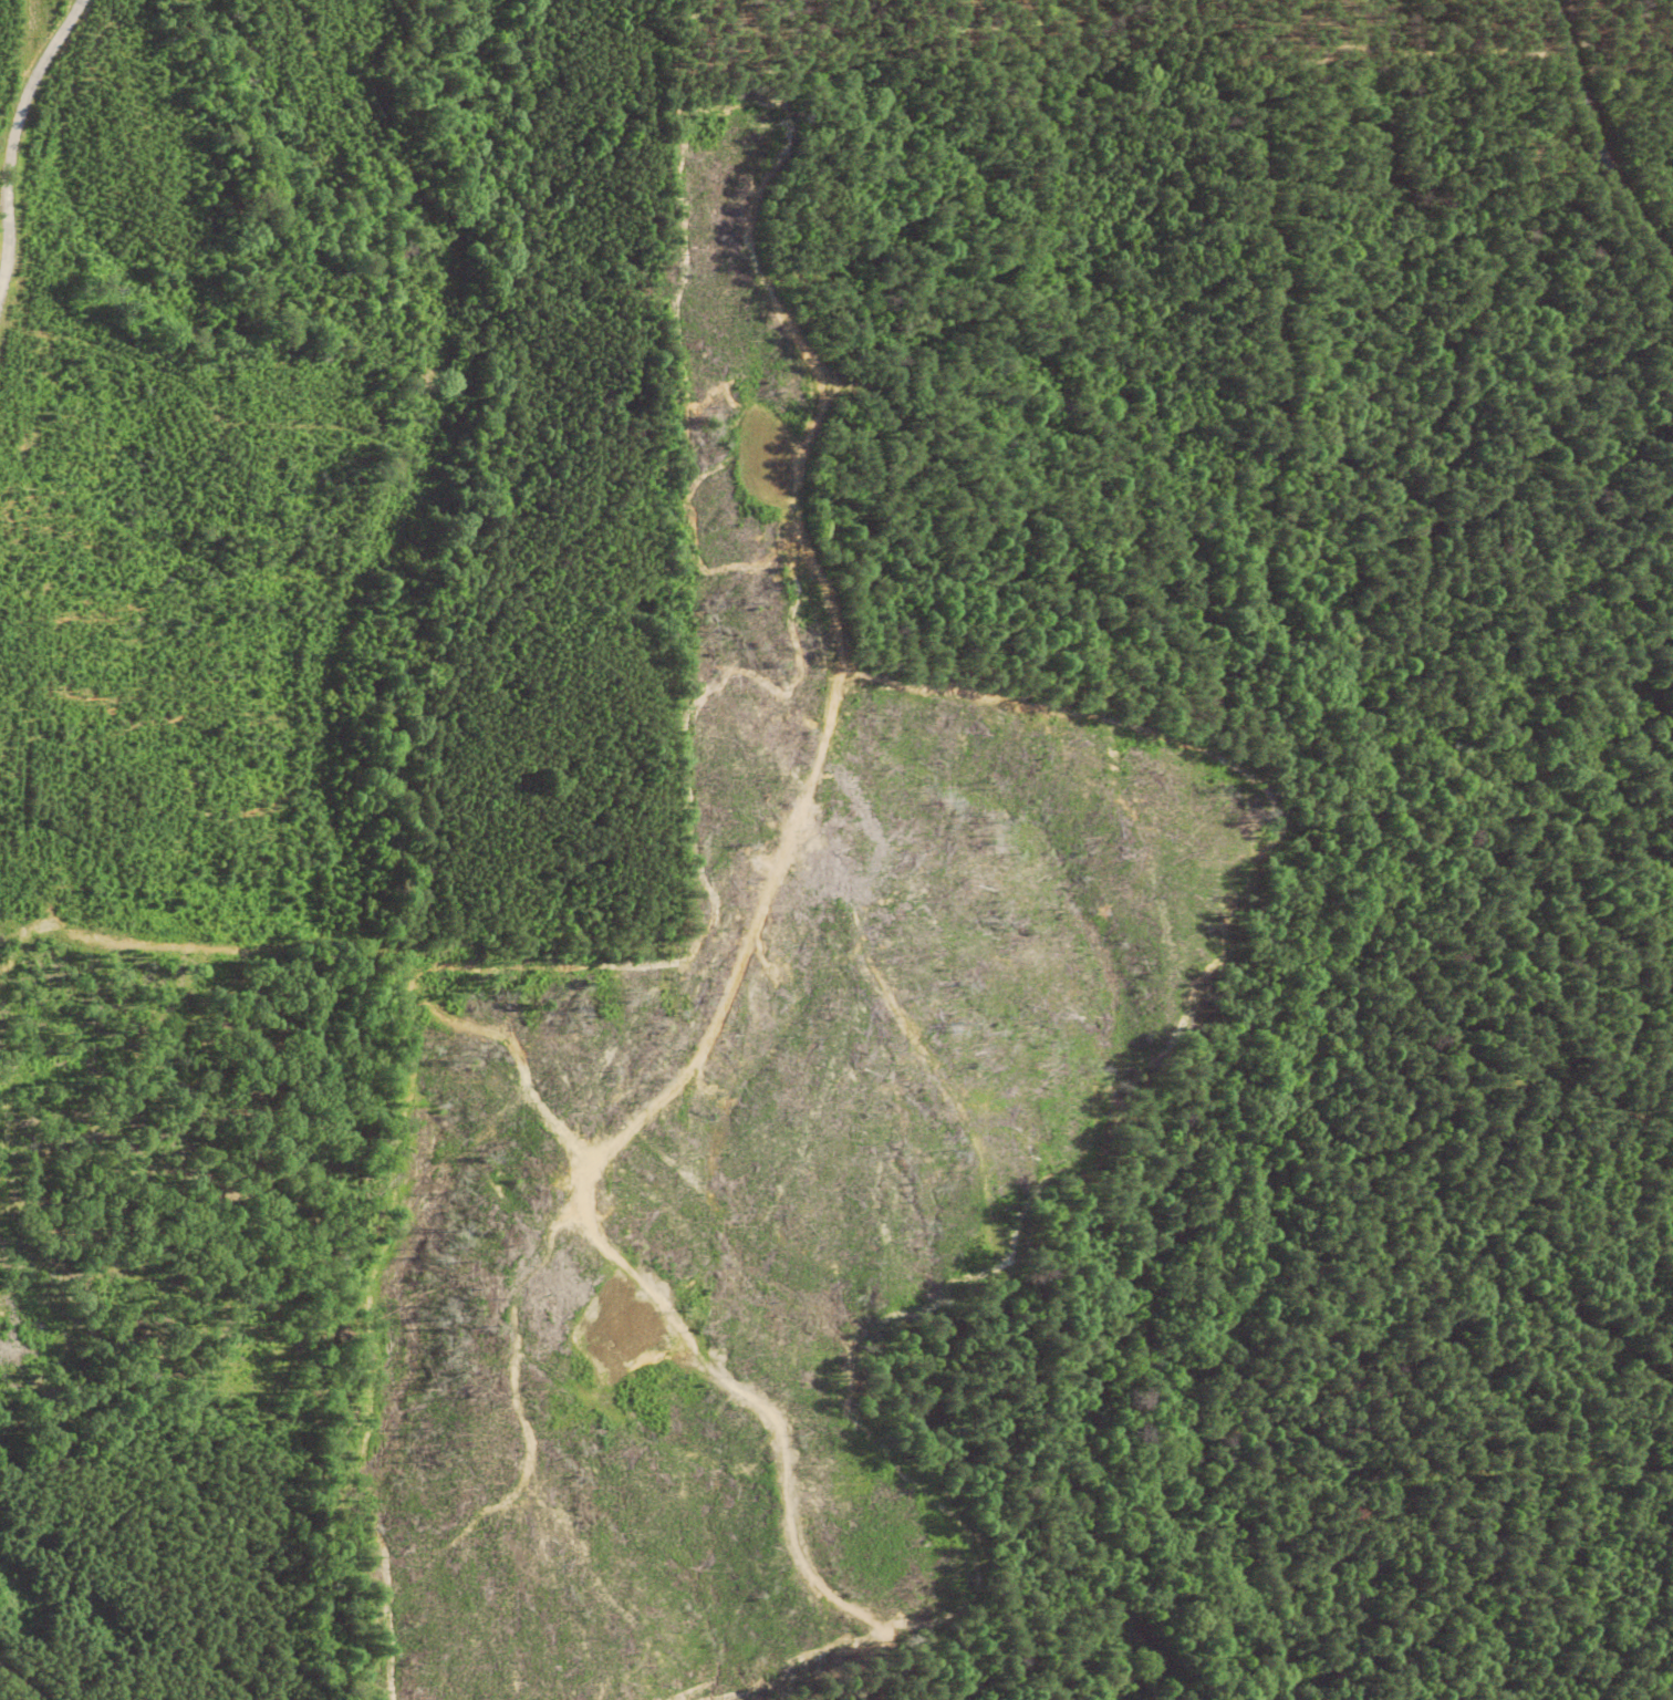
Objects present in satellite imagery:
road: (29, 103)
road: (1572, 147)

